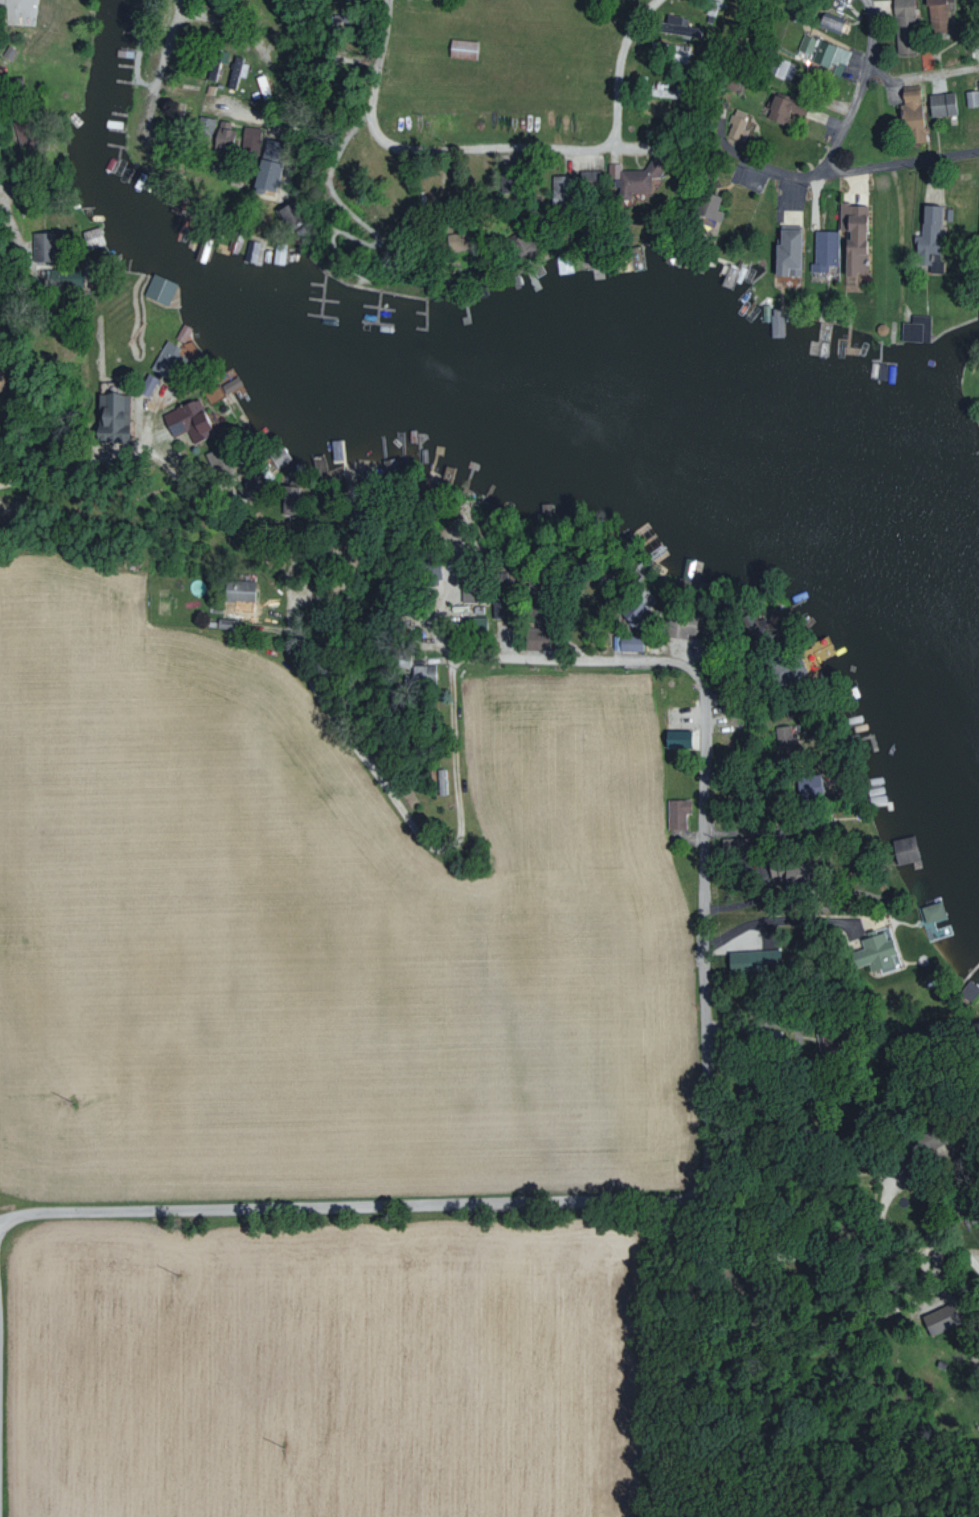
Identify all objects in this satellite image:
building: (935, 10)
building: (830, 20)
building: (902, 26)
building: (676, 29)
building: (461, 49)
building: (822, 52)
road: (167, 60)
building: (783, 69)
building: (218, 71)
building: (237, 72)
building: (263, 86)
road: (823, 87)
building: (972, 97)
building: (940, 104)
building: (652, 110)
building: (782, 110)
building: (910, 115)
building: (204, 125)
building: (737, 125)
building: (220, 133)
road: (842, 134)
road: (503, 146)
road: (902, 161)
road: (804, 173)
building: (587, 178)
building: (629, 180)
building: (559, 186)
building: (708, 207)
building: (978, 230)
building: (92, 237)
building: (927, 237)
building: (852, 238)
building: (44, 245)
building: (824, 250)
road: (25, 252)
building: (250, 252)
building: (786, 252)
building: (159, 289)
building: (776, 327)
building: (915, 329)
building: (182, 333)
building: (168, 359)
building: (146, 385)
building: (231, 386)
building: (111, 419)
road: (85, 468)
building: (290, 496)
building: (238, 591)
building: (628, 645)
building: (422, 674)
building: (675, 738)
building: (441, 781)
building: (806, 784)
road: (454, 797)
building: (677, 812)
building: (903, 849)
road: (802, 918)
road: (715, 948)
building: (876, 952)
building: (752, 959)
building: (968, 990)
road: (328, 1205)
road: (805, 1253)
building: (940, 1319)

